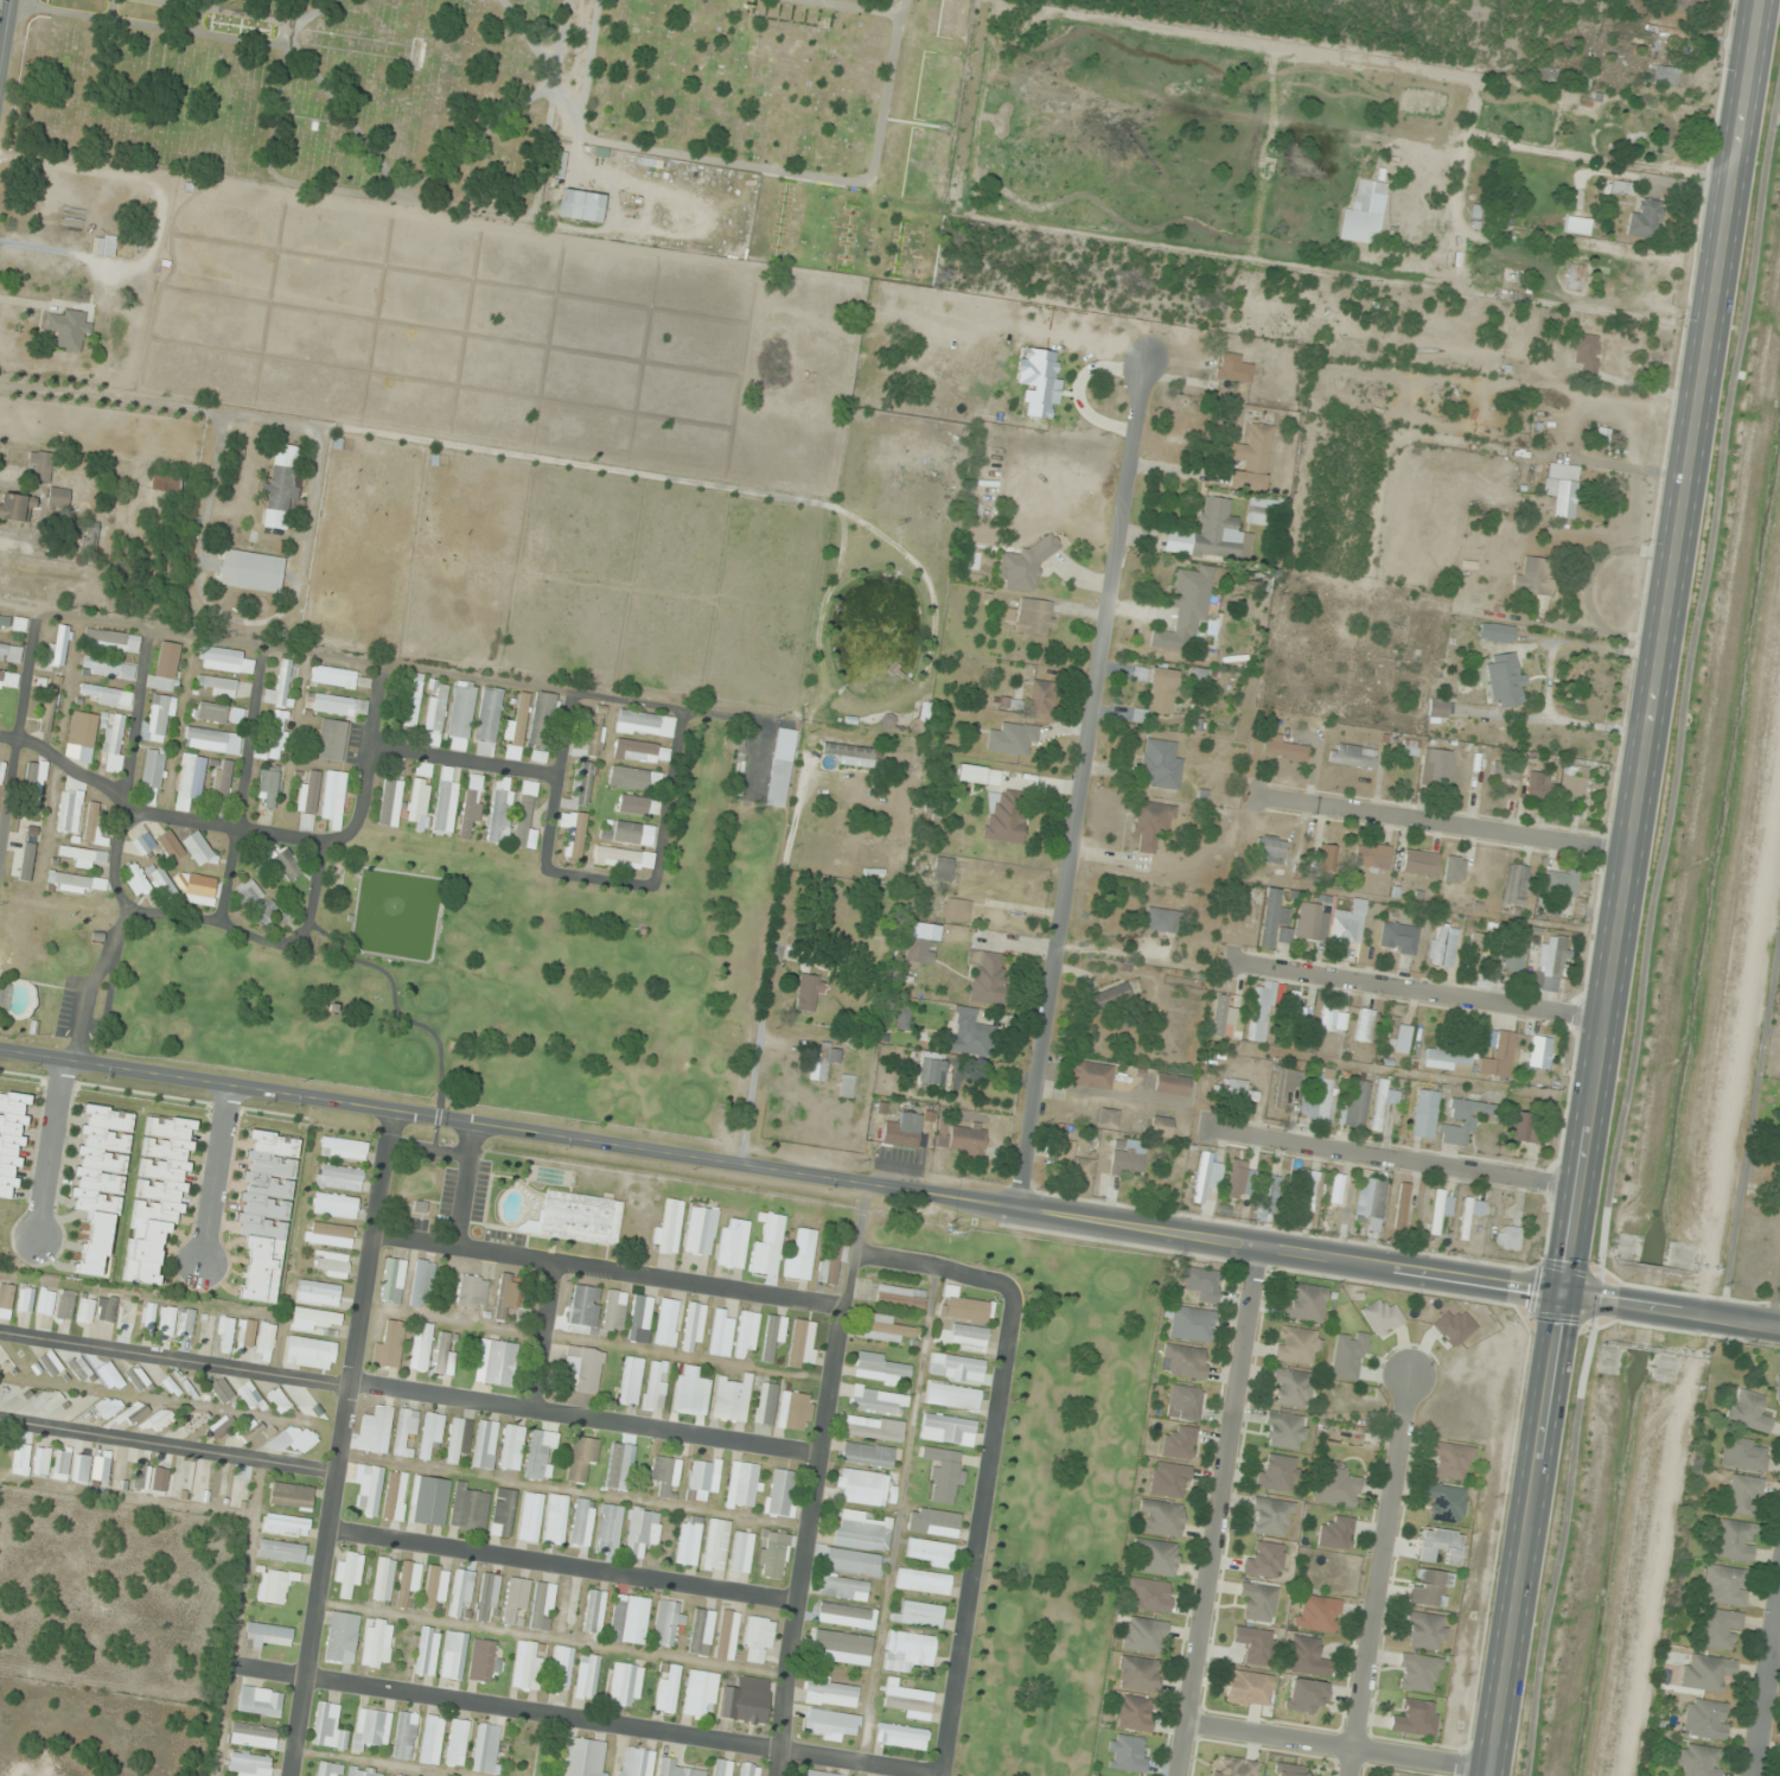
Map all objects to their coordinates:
building: (1688, 6)
road: (2, 18)
building: (1546, 74)
building: (1669, 76)
park: (530, 109)
building: (1361, 204)
building: (581, 206)
building: (1645, 219)
building: (1576, 225)
building: (103, 244)
building: (1574, 276)
building: (68, 330)
building: (1586, 354)
building: (1232, 368)
road: (1457, 446)
building: (1250, 459)
building: (43, 466)
building: (166, 482)
building: (280, 489)
building: (1561, 489)
building: (58, 498)
building: (17, 508)
building: (87, 533)
building: (1207, 534)
building: (1025, 567)
building: (250, 572)
building: (1533, 580)
building: (1191, 601)
building: (1034, 617)
building: (4, 623)
building: (1495, 632)
building: (116, 642)
building: (58, 645)
building: (9, 653)
building: (223, 660)
building: (165, 666)
building: (108, 668)
building: (1504, 676)
building: (333, 677)
building: (8, 680)
building: (216, 686)
building: (280, 687)
building: (1160, 689)
building: (104, 695)
building: (1040, 696)
building: (410, 701)
building: (336, 705)
building: (47, 708)
building: (1437, 708)
building: (216, 713)
building: (435, 715)
building: (460, 717)
building: (160, 719)
building: (542, 720)
building: (487, 721)
building: (887, 721)
building: (644, 724)
building: (517, 726)
building: (82, 730)
building: (589, 736)
road: (24, 739)
building: (211, 740)
building: (274, 740)
building: (333, 740)
building: (1012, 740)
building: (113, 744)
building: (1410, 747)
building: (1282, 749)
building: (640, 752)
building: (1351, 756)
building: (538, 757)
road: (389, 759)
building: (783, 759)
building: (1160, 764)
building: (1436, 766)
building: (1505, 769)
building: (152, 776)
building: (634, 779)
building: (190, 781)
building: (34, 782)
road: (1078, 782)
building: (580, 785)
building: (1538, 785)
building: (268, 787)
building: (1572, 787)
building: (219, 788)
building: (332, 798)
building: (417, 800)
building: (308, 802)
building: (390, 802)
building: (445, 803)
building: (638, 806)
road: (253, 807)
building: (471, 807)
road: (579, 808)
building: (931, 808)
building: (499, 810)
building: (68, 811)
building: (524, 817)
building: (1150, 822)
road: (1443, 823)
building: (92, 828)
road: (174, 830)
road: (471, 830)
building: (573, 833)
building: (633, 833)
road: (126, 846)
building: (140, 846)
building: (170, 846)
building: (198, 848)
building: (1268, 849)
building: (1372, 855)
building: (81, 857)
building: (623, 858)
building: (1328, 858)
building: (1419, 862)
building: (287, 865)
building: (943, 868)
building: (1453, 870)
building: (76, 883)
building: (149, 883)
building: (1559, 883)
building: (1514, 885)
road: (1622, 889)
building: (199, 890)
road: (704, 898)
building: (254, 902)
building: (955, 910)
building: (1271, 918)
building: (1161, 919)
building: (1312, 922)
building: (1348, 924)
building: (1397, 937)
road: (257, 941)
building: (918, 944)
building: (1443, 944)
building: (1478, 949)
building: (1514, 956)
building: (1555, 956)
park: (496, 974)
building: (987, 978)
road: (1417, 989)
building: (808, 993)
building: (1108, 998)
building: (1227, 1006)
building: (1261, 1011)
building: (1332, 1018)
building: (1365, 1025)
building: (969, 1033)
building: (1398, 1036)
building: (1539, 1052)
building: (1499, 1057)
building: (827, 1058)
building: (1448, 1059)
building: (930, 1071)
building: (1091, 1075)
building: (1170, 1084)
building: (1287, 1084)
building: (846, 1086)
building: (1242, 1093)
building: (1320, 1102)
building: (1357, 1103)
building: (1382, 1103)
building: (1424, 1114)
building: (1108, 1118)
road: (1749, 1120)
building: (1462, 1121)
building: (1161, 1126)
building: (1523, 1127)
building: (902, 1131)
building: (963, 1141)
road: (50, 1148)
building: (344, 1148)
building: (103, 1151)
road: (1393, 1154)
building: (1125, 1160)
building: (1073, 1163)
road: (804, 1172)
road: (217, 1175)
building: (1205, 1177)
building: (339, 1178)
building: (1237, 1179)
building: (1307, 1191)
building: (1267, 1195)
building: (1335, 1198)
building: (1371, 1201)
building: (334, 1205)
building: (1402, 1205)
building: (1441, 1209)
building: (1469, 1214)
building: (578, 1217)
building: (666, 1226)
building: (700, 1230)
building: (328, 1235)
building: (1506, 1237)
building: (732, 1243)
building: (766, 1243)
building: (799, 1253)
building: (831, 1256)
road: (925, 1263)
building: (331, 1265)
road: (605, 1268)
building: (393, 1281)
building: (422, 1284)
building: (1202, 1284)
building: (471, 1292)
road: (1774, 1293)
traffic signals: (1561, 1294)
building: (505, 1296)
building: (6, 1297)
building: (900, 1297)
building: (25, 1298)
building: (45, 1303)
building: (1303, 1303)
building: (65, 1305)
building: (964, 1307)
building: (106, 1310)
building: (583, 1310)
building: (85, 1311)
building: (614, 1311)
road: (1695, 1315)
building: (1380, 1317)
building: (315, 1319)
building: (639, 1319)
building: (149, 1320)
building: (166, 1320)
building: (185, 1323)
building: (666, 1323)
building: (1192, 1324)
building: (693, 1325)
building: (1453, 1328)
building: (888, 1329)
building: (721, 1332)
building: (224, 1333)
building: (245, 1333)
road: (542, 1333)
building: (746, 1335)
building: (772, 1338)
building: (968, 1338)
building: (264, 1341)
building: (390, 1344)
building: (802, 1344)
building: (1297, 1345)
building: (421, 1347)
building: (311, 1352)
building: (444, 1354)
building: (1347, 1355)
building: (496, 1362)
building: (1184, 1362)
building: (50, 1363)
building: (583, 1368)
building: (880, 1368)
building: (958, 1369)
building: (109, 1376)
building: (138, 1379)
building: (631, 1380)
building: (656, 1384)
building: (1290, 1387)
road: (408, 1389)
building: (221, 1390)
building: (690, 1392)
building: (1778, 1392)
building: (249, 1395)
building: (952, 1396)
building: (732, 1399)
building: (279, 1400)
building: (878, 1401)
building: (1186, 1401)
building: (306, 1403)
building: (765, 1403)
building: (110, 1407)
building: (795, 1411)
building: (1748, 1411)
building: (135, 1412)
building: (160, 1420)
building: (197, 1422)
building: (873, 1428)
building: (250, 1430)
building: (948, 1430)
building: (375, 1431)
building: (1284, 1431)
building: (404, 1433)
building: (293, 1439)
building: (458, 1439)
road: (167, 1441)
road: (338, 1443)
building: (1179, 1444)
building: (484, 1445)
building: (511, 1447)
building: (540, 1454)
building: (867, 1454)
building: (1744, 1454)
building: (20, 1459)
building: (581, 1459)
building: (42, 1462)
building: (1450, 1462)
building: (60, 1465)
building: (90, 1469)
building: (1277, 1472)
building: (139, 1475)
building: (944, 1475)
building: (665, 1476)
road: (814, 1477)
building: (159, 1478)
building: (702, 1478)
building: (1169, 1479)
building: (741, 1485)
park: (1050, 1485)
building: (861, 1487)
building: (1335, 1487)
building: (368, 1489)
building: (236, 1490)
building: (780, 1492)
building: (394, 1495)
building: (1743, 1495)
building: (291, 1496)
building: (428, 1501)
building: (1444, 1503)
building: (467, 1509)
road: (1219, 1510)
building: (503, 1513)
building: (530, 1516)
building: (1271, 1516)
building: (1160, 1517)
building: (555, 1519)
road: (895, 1521)
building: (582, 1522)
building: (933, 1522)
road: (977, 1522)
building: (286, 1524)
building: (608, 1529)
building: (642, 1532)
building: (861, 1532)
building: (1336, 1533)
building: (1735, 1540)
building: (689, 1541)
building: (715, 1545)
building: (1441, 1546)
building: (281, 1551)
building: (741, 1552)
building: (930, 1553)
building: (773, 1554)
building: (1154, 1557)
building: (1264, 1560)
building: (853, 1561)
road: (562, 1564)
building: (347, 1576)
road: (1378, 1576)
building: (383, 1579)
building: (408, 1581)
building: (923, 1581)
building: (1727, 1585)
building: (273, 1586)
building: (435, 1586)
building: (843, 1587)
building: (1430, 1587)
building: (461, 1591)
building: (1150, 1594)
building: (487, 1598)
building: (515, 1598)
building: (1258, 1602)
building: (542, 1604)
building: (563, 1609)
building: (594, 1612)
building: (1318, 1613)
building: (919, 1615)
building: (846, 1616)
building: (629, 1619)
building: (669, 1623)
building: (1718, 1629)
building: (1424, 1631)
building: (701, 1632)
building: (727, 1635)
building: (1142, 1635)
building: (268, 1636)
building: (342, 1637)
building: (758, 1640)
building: (1255, 1644)
building: (377, 1645)
building: (840, 1647)
building: (427, 1651)
road: (1773, 1651)
building: (911, 1653)
building: (453, 1656)
building: (1306, 1656)
building: (484, 1661)
building: (527, 1666)
road: (273, 1670)
building: (561, 1670)
building: (1417, 1673)
building: (1706, 1673)
building: (1137, 1674)
building: (586, 1676)
road: (1763, 1679)
building: (626, 1685)
building: (668, 1688)
building: (1249, 1688)
building: (830, 1692)
building: (700, 1693)
building: (1304, 1694)
building: (746, 1700)
building: (260, 1701)
building: (907, 1702)
building: (1134, 1713)
building: (1415, 1718)
building: (1705, 1719)
road: (621, 1723)
building: (830, 1725)
building: (327, 1726)
building: (371, 1729)
building: (253, 1736)
building: (404, 1736)
building: (901, 1736)
building: (432, 1739)
building: (457, 1743)
road: (1329, 1745)
building: (485, 1749)
building: (1127, 1753)
building: (581, 1758)
building: (1699, 1761)
building: (636, 1762)
building: (250, 1764)
building: (1233, 1767)
building: (721, 1768)
building: (327, 1769)
building: (674, 1769)
building: (751, 1770)
building: (1289, 1770)
building: (363, 1771)
building: (822, 1774)
building: (391, 1775)

